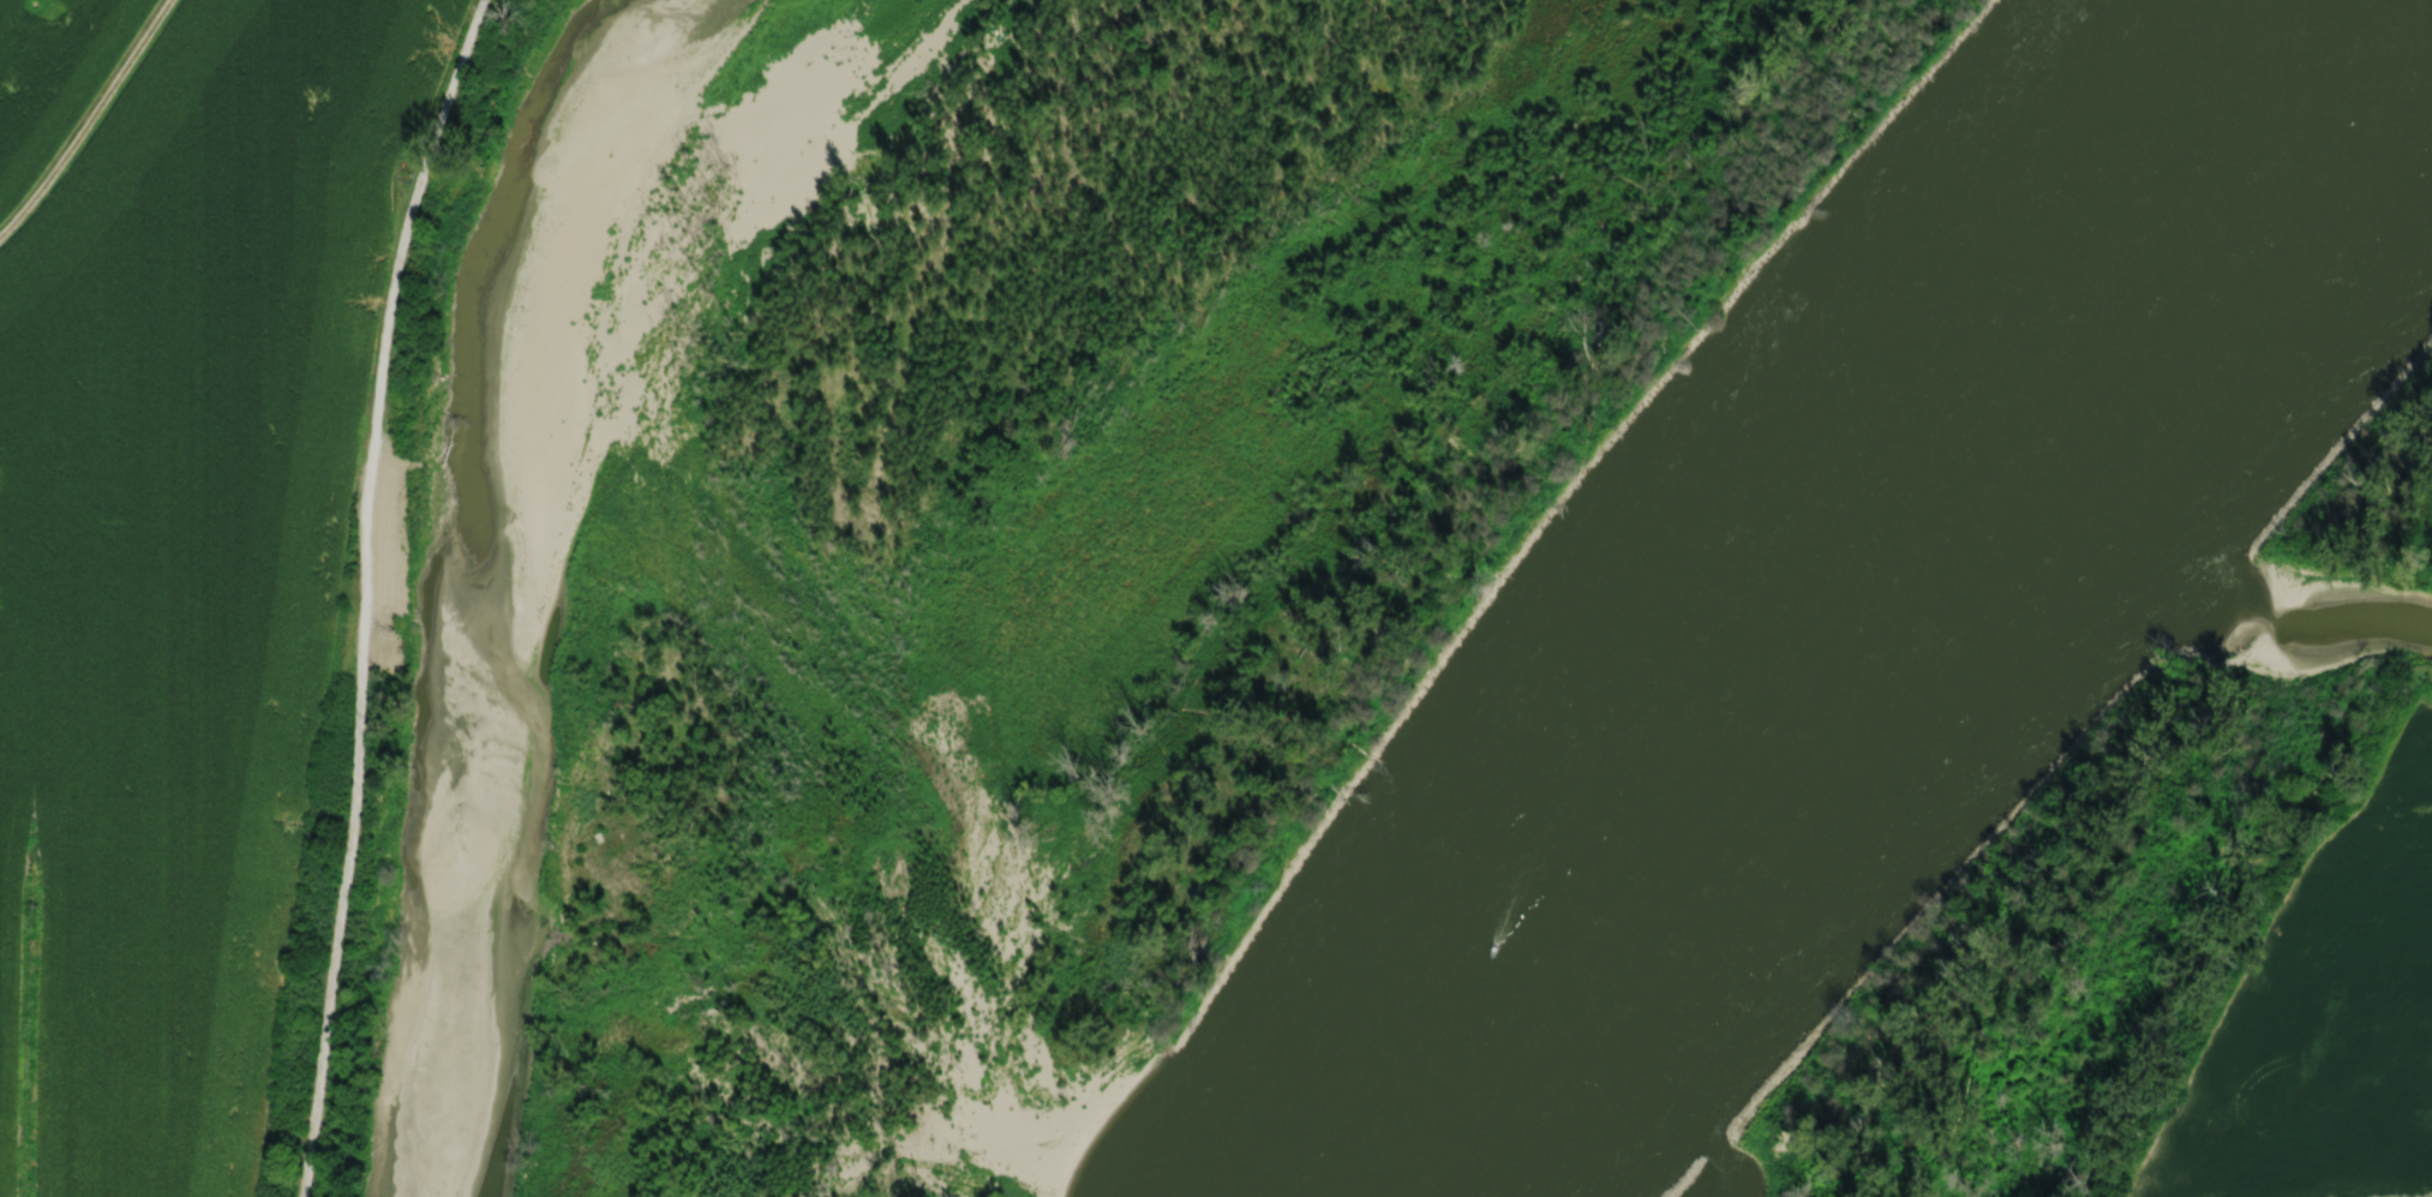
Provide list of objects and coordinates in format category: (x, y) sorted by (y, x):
road: (90, 124)
river: (1925, 573)
road: (366, 592)

